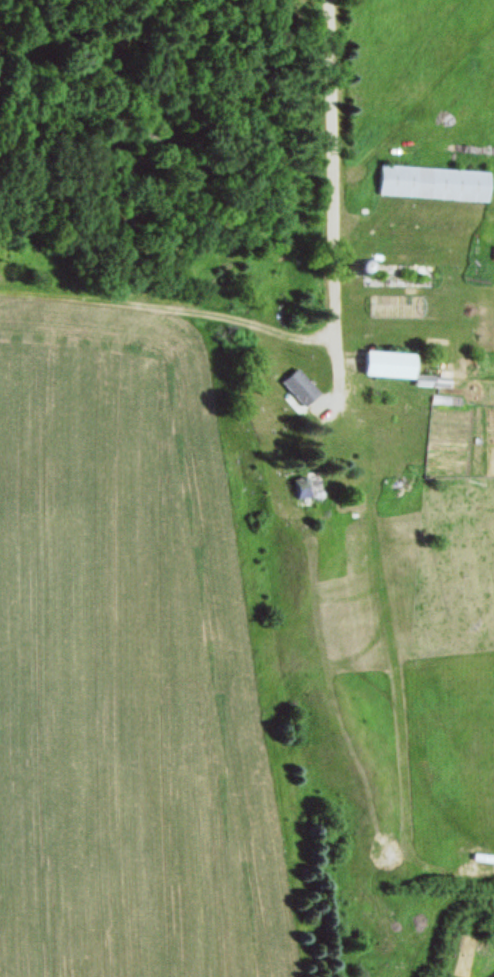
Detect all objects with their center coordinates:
building: (436, 184)
road: (336, 200)
building: (392, 366)
building: (303, 388)
building: (312, 489)

